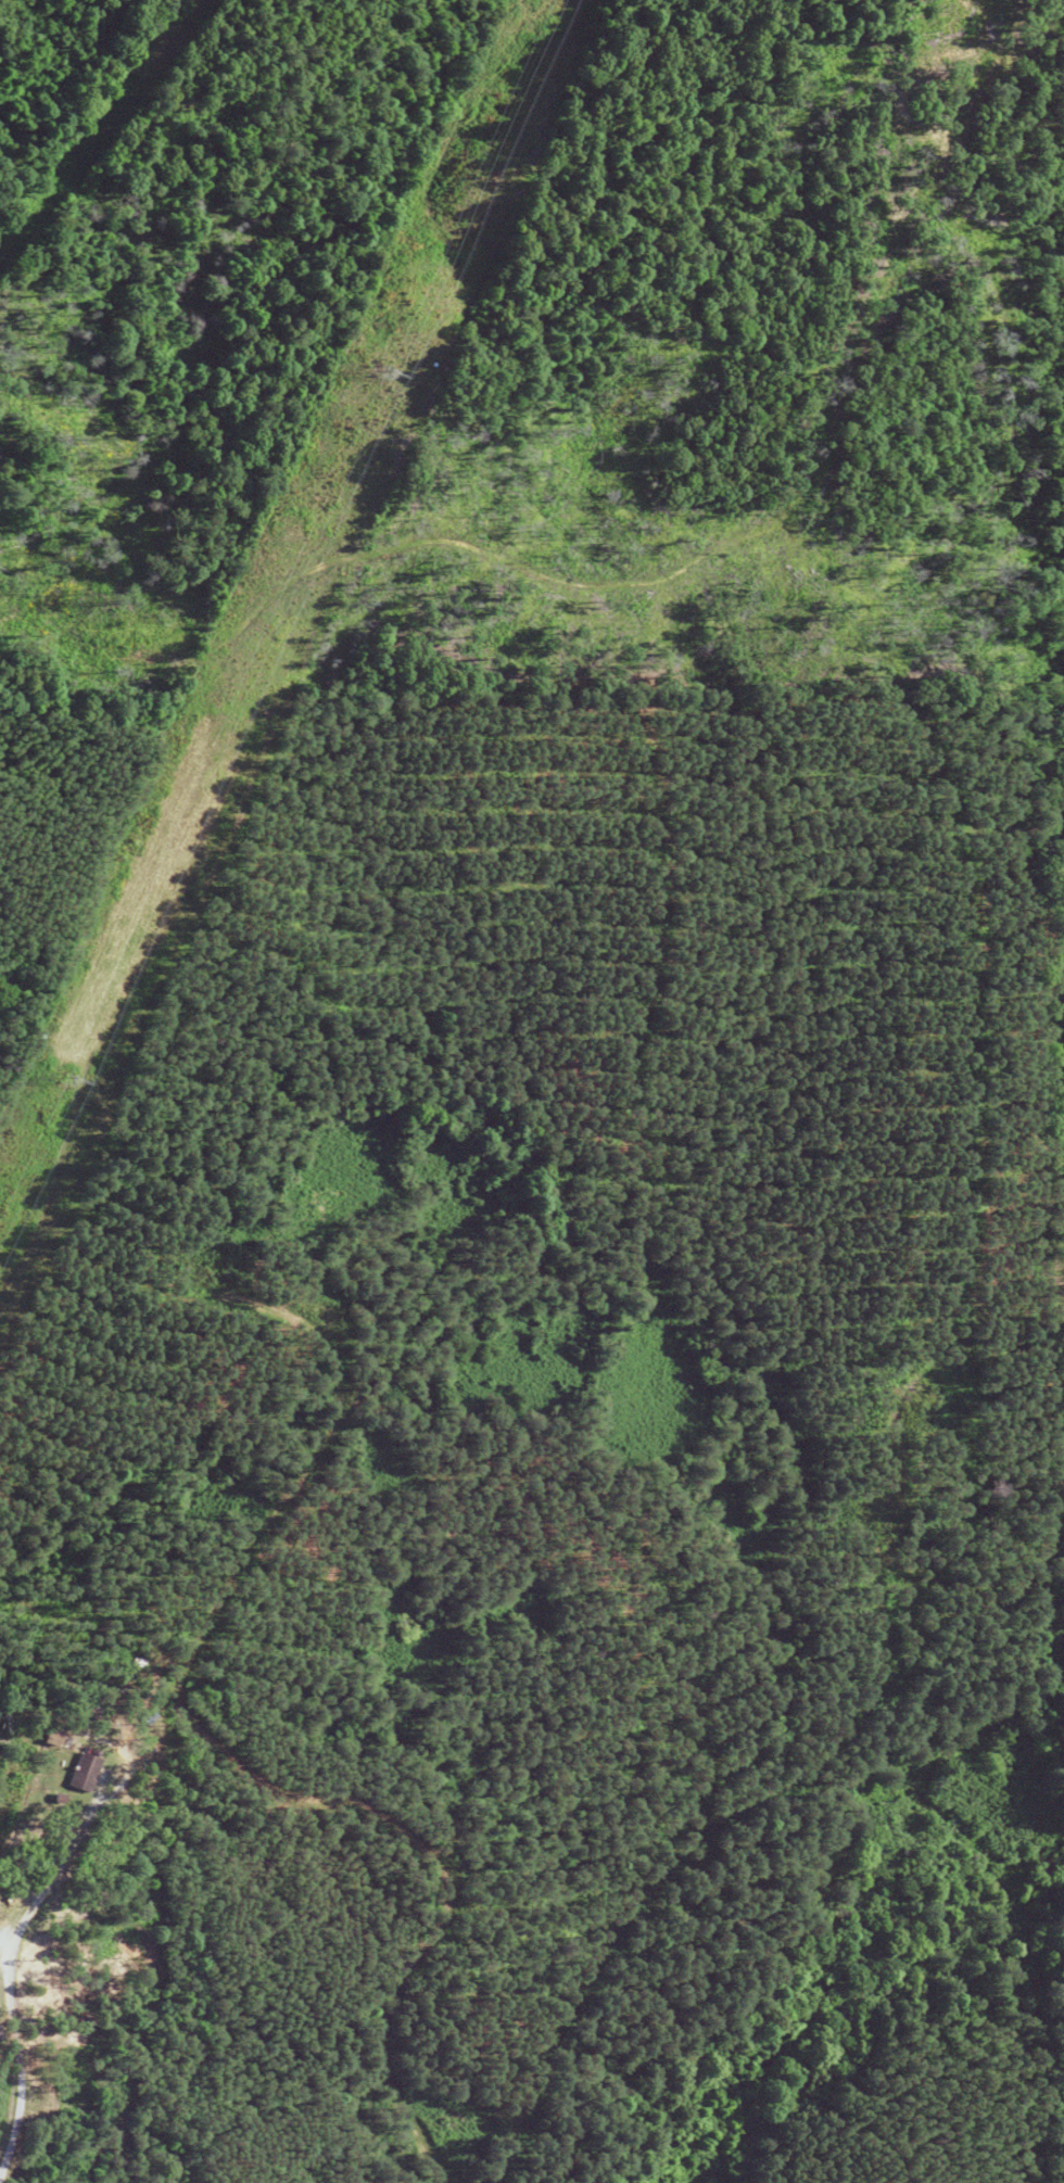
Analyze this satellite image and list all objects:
power tower: (379, 371)
power tower: (58, 1078)
building: (76, 1773)
road: (59, 1950)

